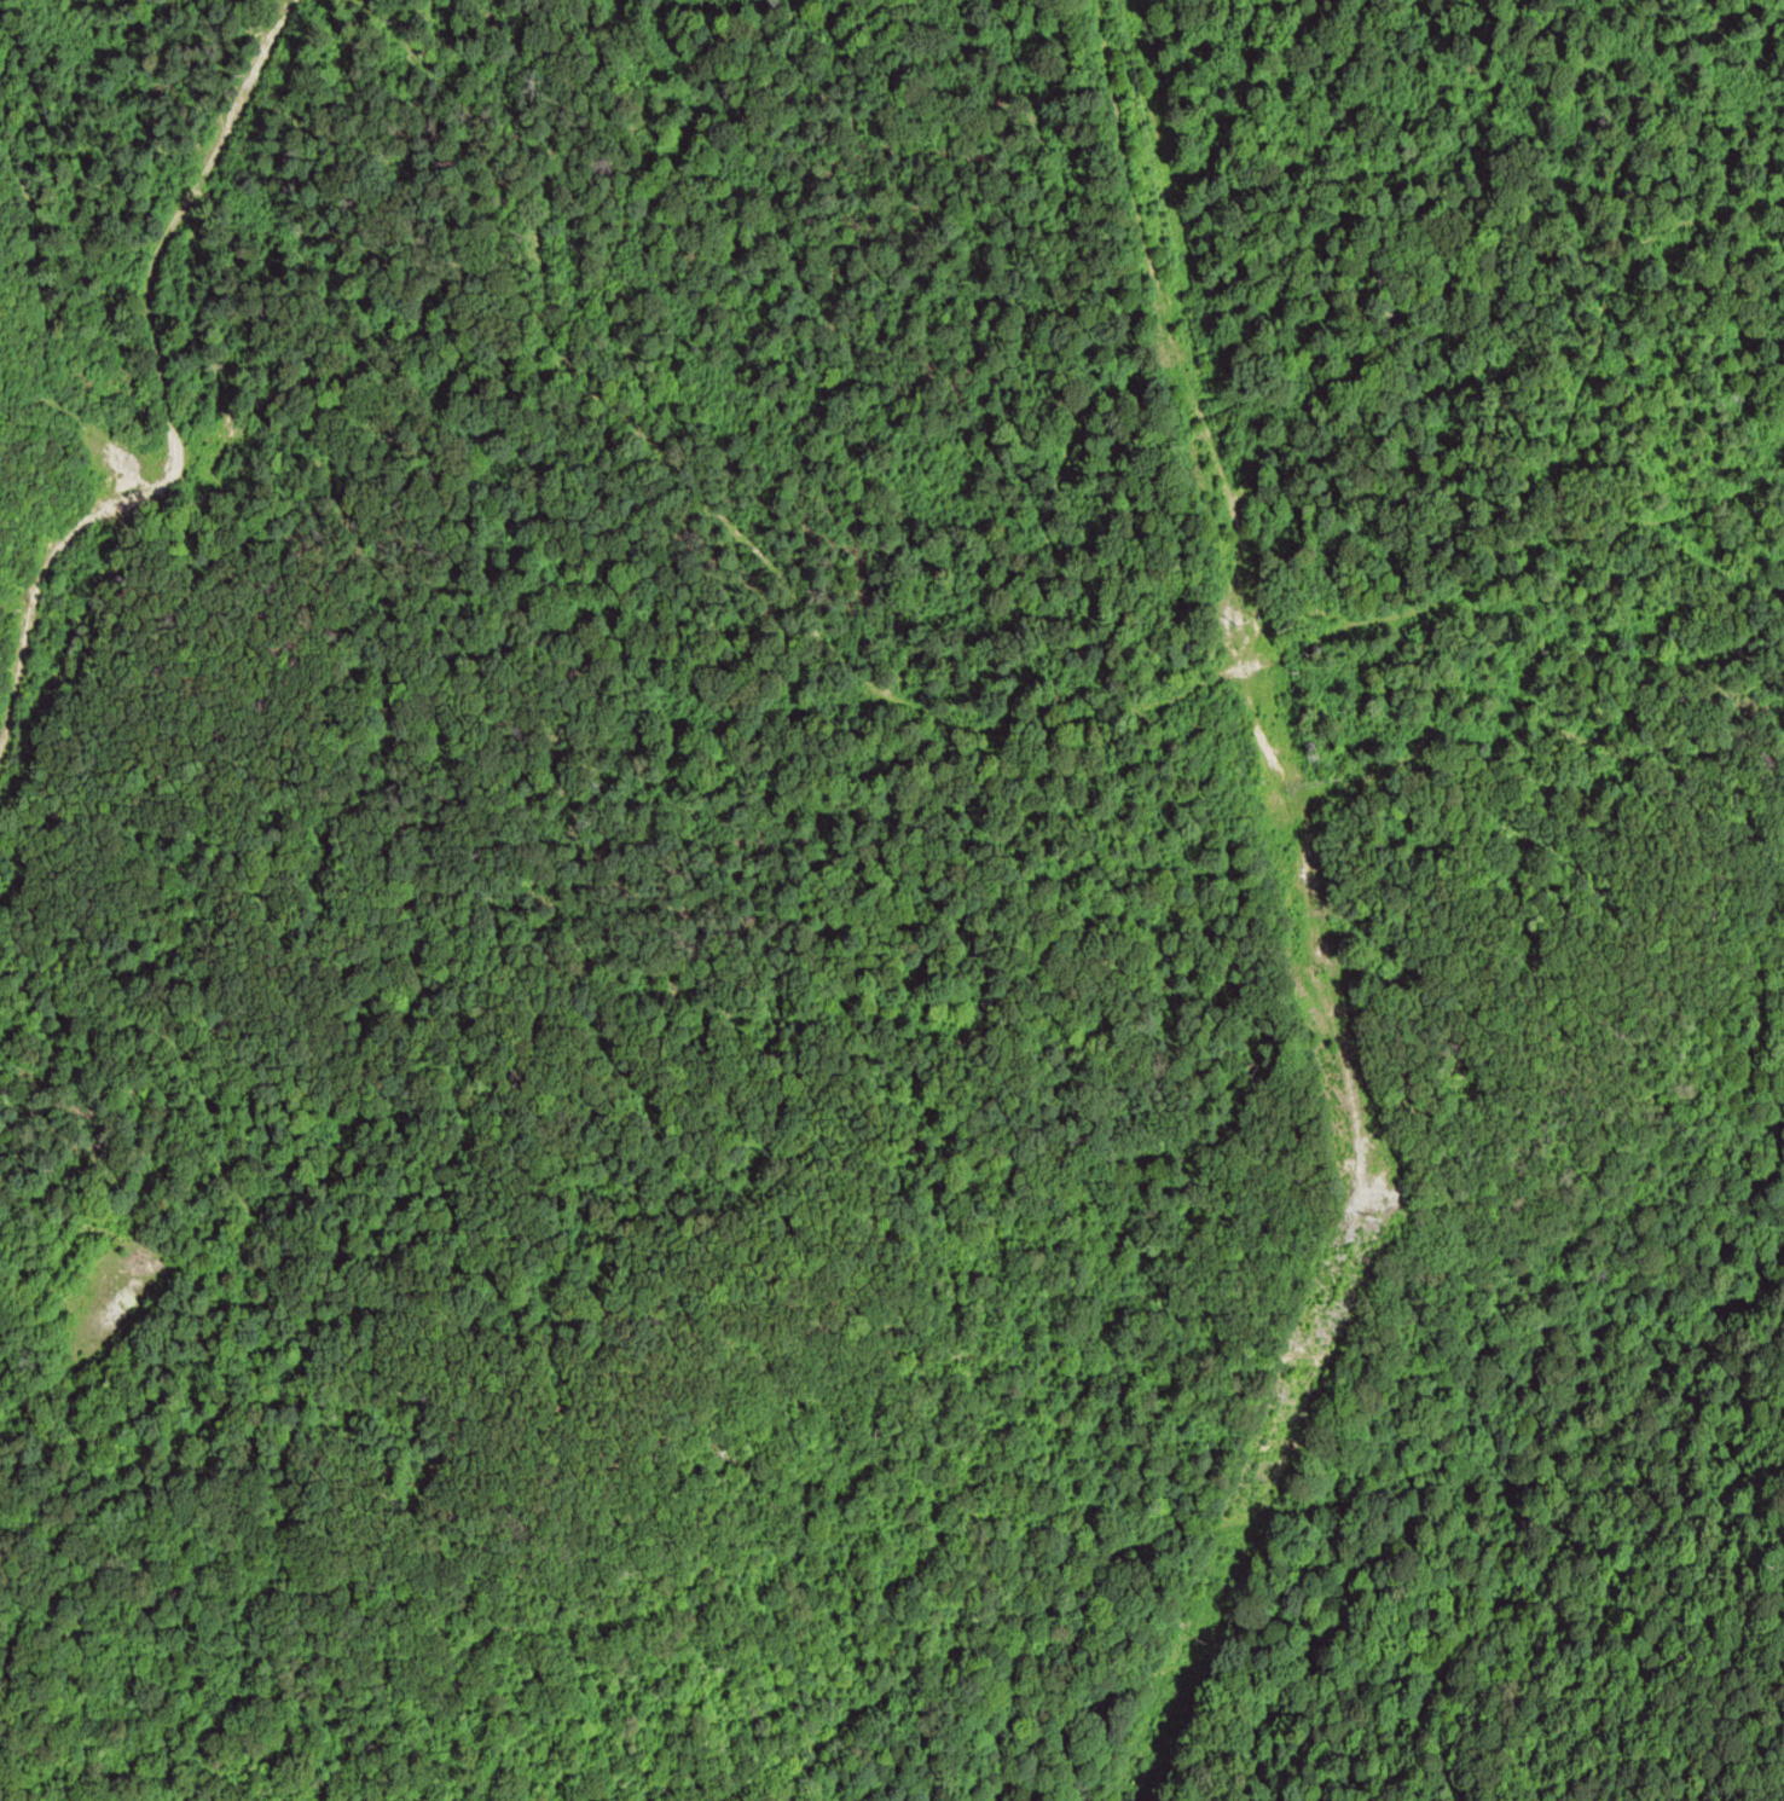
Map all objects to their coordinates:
road: (168, 392)

